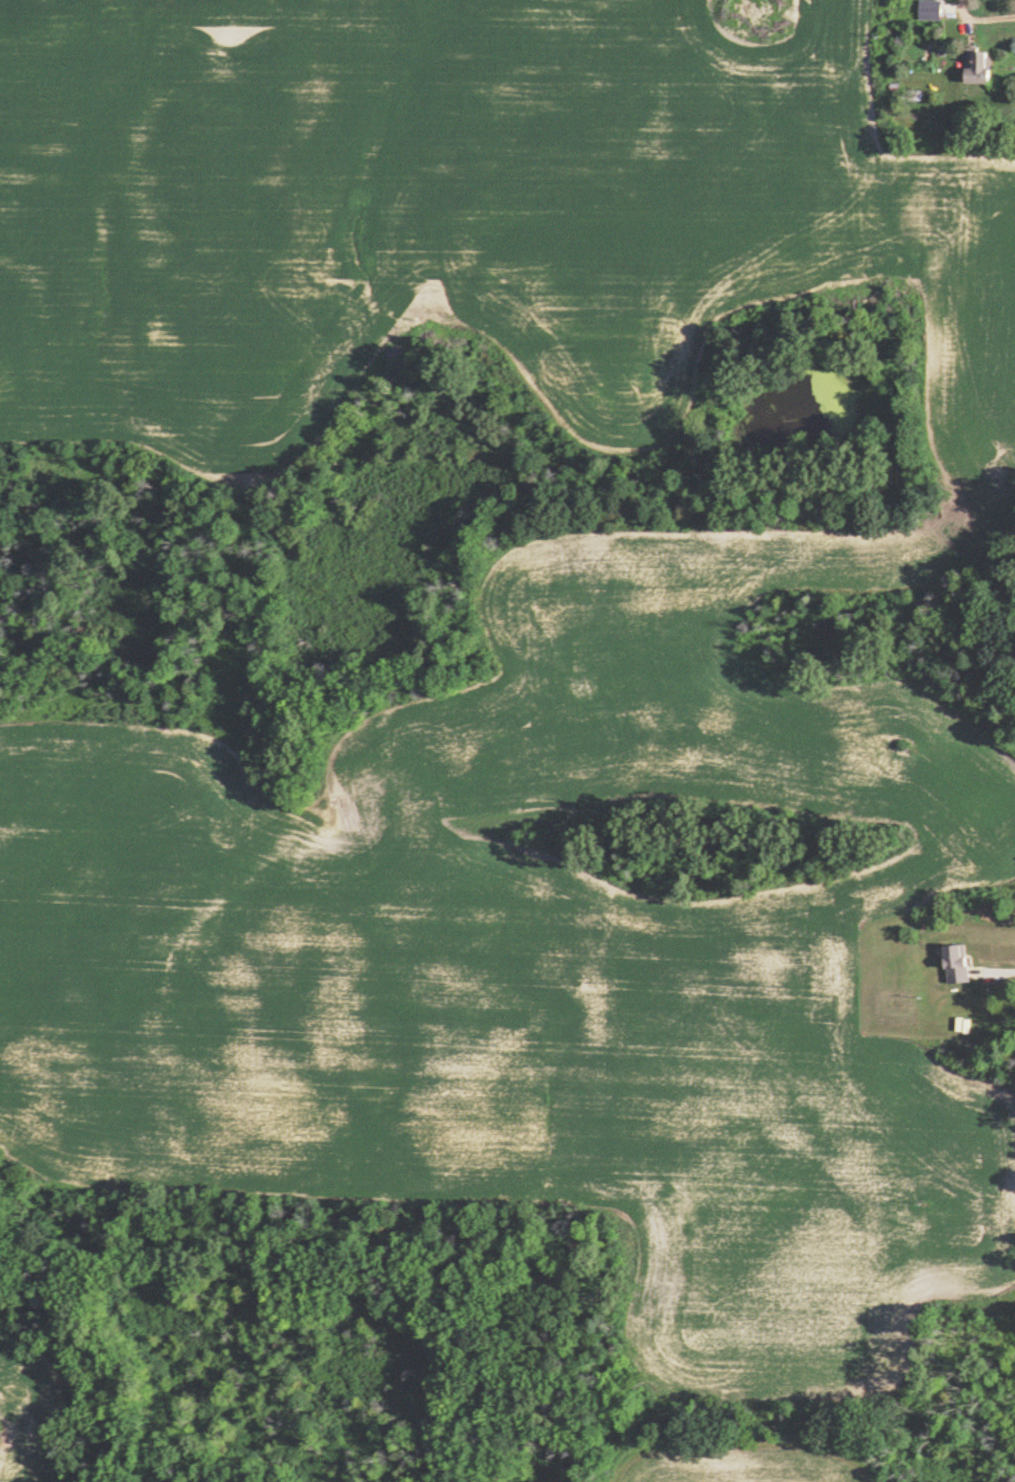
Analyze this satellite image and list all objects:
building: (916, 12)
road: (980, 18)
building: (981, 66)
building: (957, 963)

